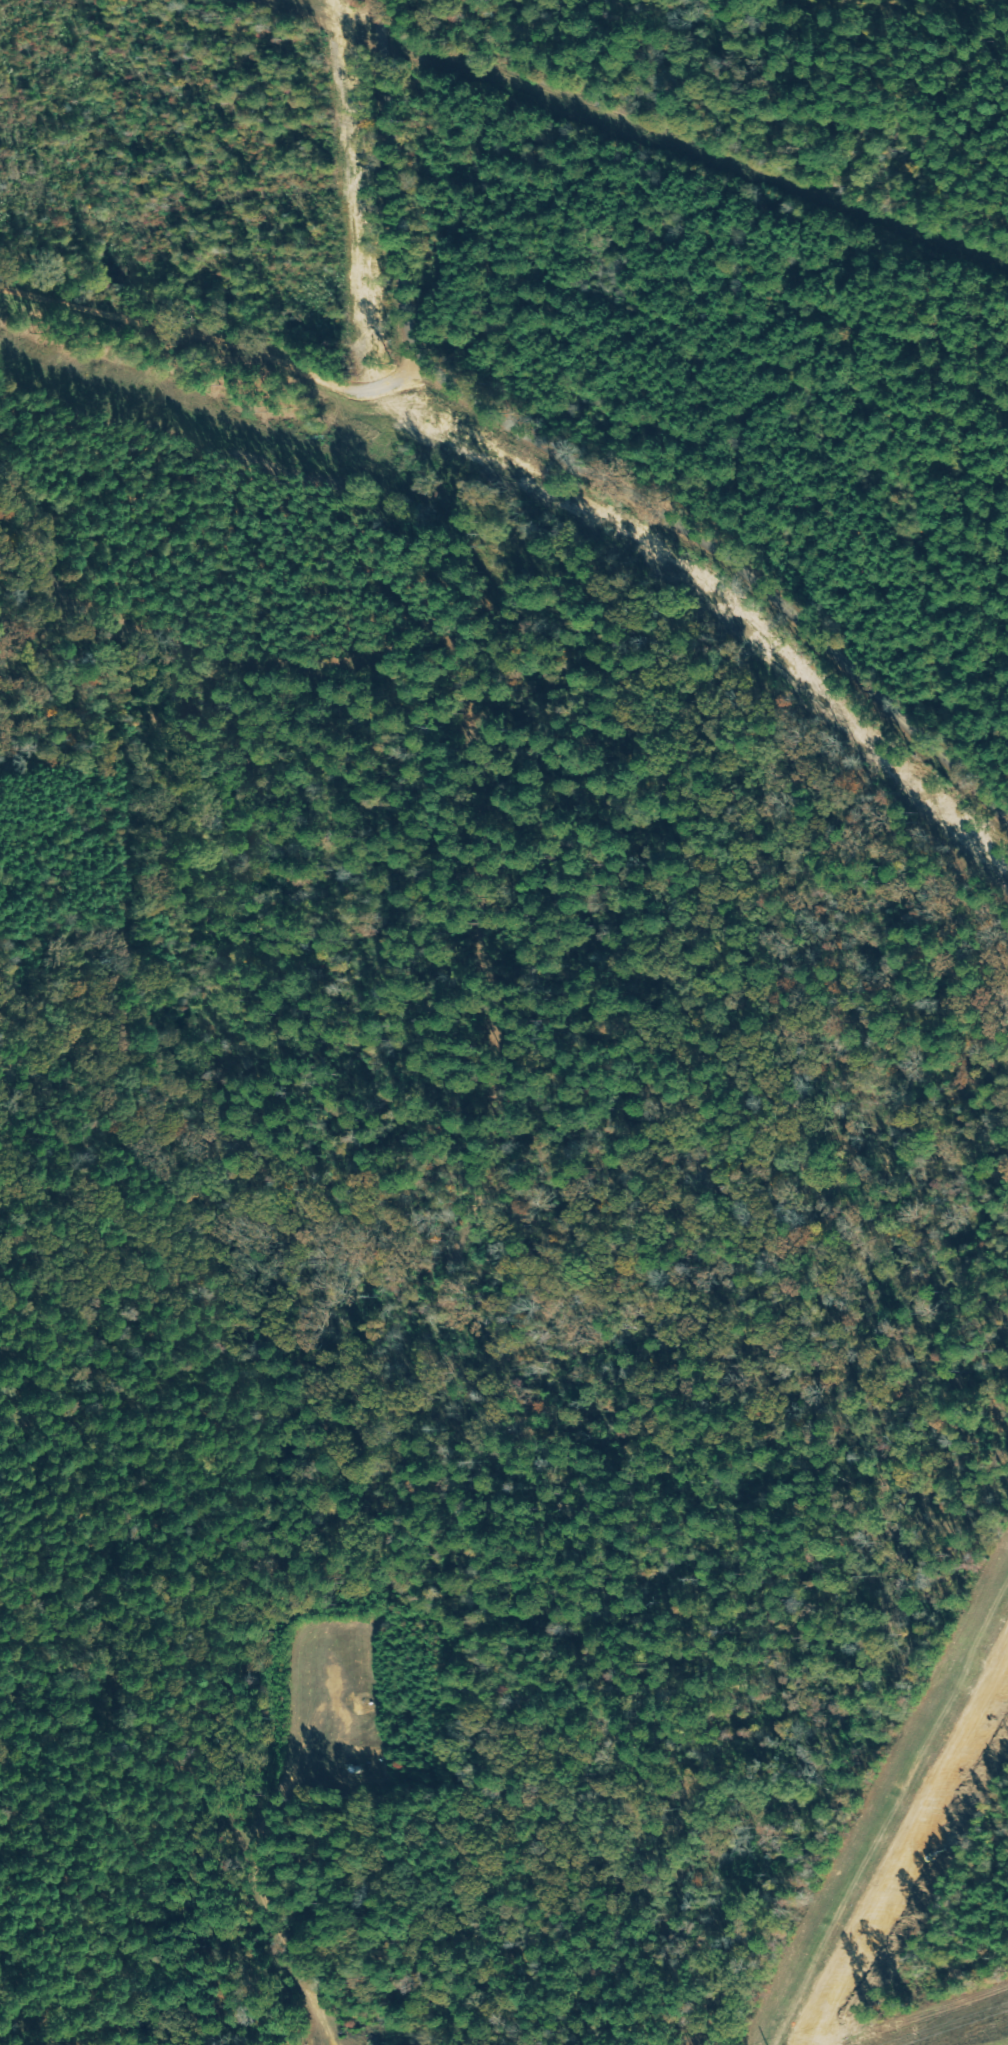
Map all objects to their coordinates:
road: (222, 327)
road: (577, 461)
road: (163, 1680)

